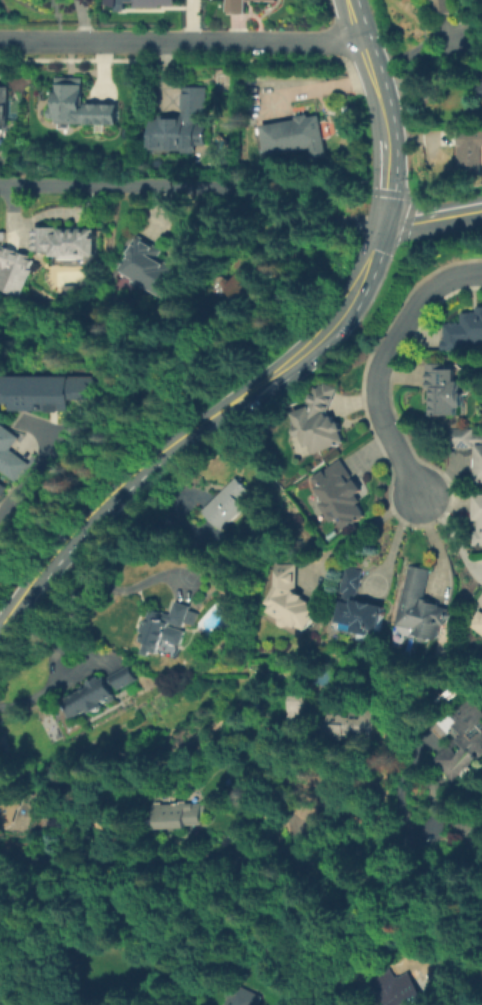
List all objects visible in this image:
building: (256, 0)
building: (265, 0)
building: (141, 3)
building: (441, 5)
building: (236, 6)
road: (181, 40)
road: (373, 68)
building: (481, 82)
building: (81, 100)
building: (2, 116)
building: (180, 121)
building: (296, 132)
building: (465, 148)
road: (384, 184)
road: (192, 186)
road: (9, 193)
road: (430, 217)
traffic signals: (378, 227)
building: (66, 236)
building: (156, 267)
building: (12, 269)
building: (243, 286)
building: (463, 329)
road: (382, 362)
building: (443, 388)
building: (44, 390)
building: (322, 418)
road: (195, 428)
road: (40, 429)
building: (466, 444)
building: (10, 452)
road: (42, 462)
building: (2, 488)
building: (338, 492)
building: (227, 503)
building: (478, 521)
road: (358, 525)
road: (449, 536)
road: (387, 539)
road: (114, 589)
building: (293, 597)
building: (355, 603)
building: (420, 606)
building: (479, 624)
building: (167, 625)
building: (169, 647)
building: (101, 691)
road: (37, 694)
building: (294, 705)
building: (346, 724)
building: (460, 744)
building: (10, 806)
building: (176, 814)
road: (218, 853)
building: (402, 991)
building: (246, 996)
building: (421, 1004)

